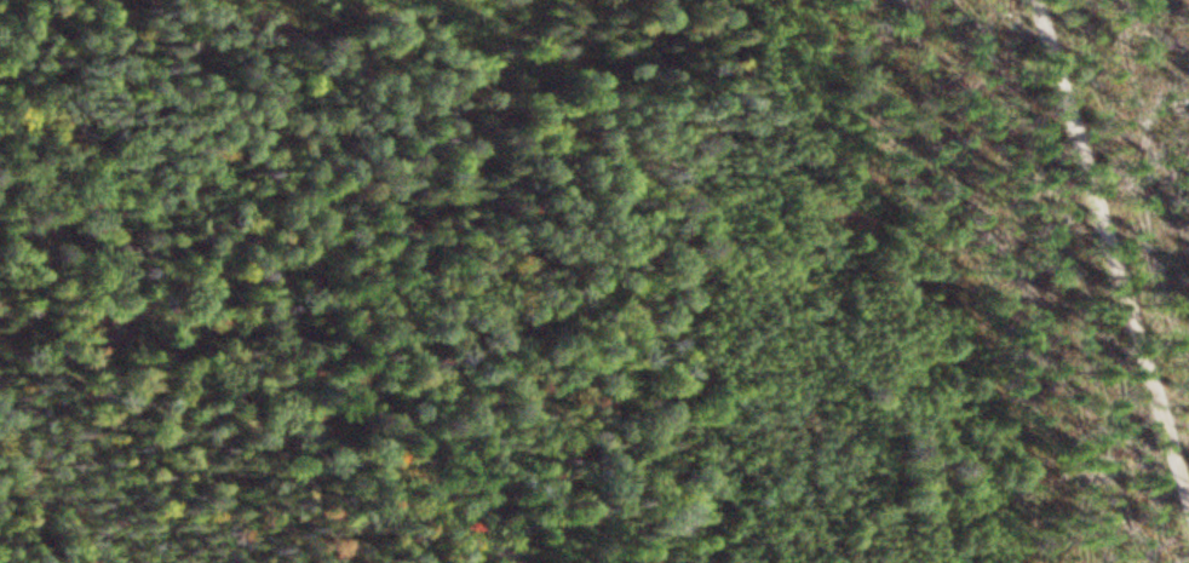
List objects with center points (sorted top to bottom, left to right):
road: (1121, 223)

